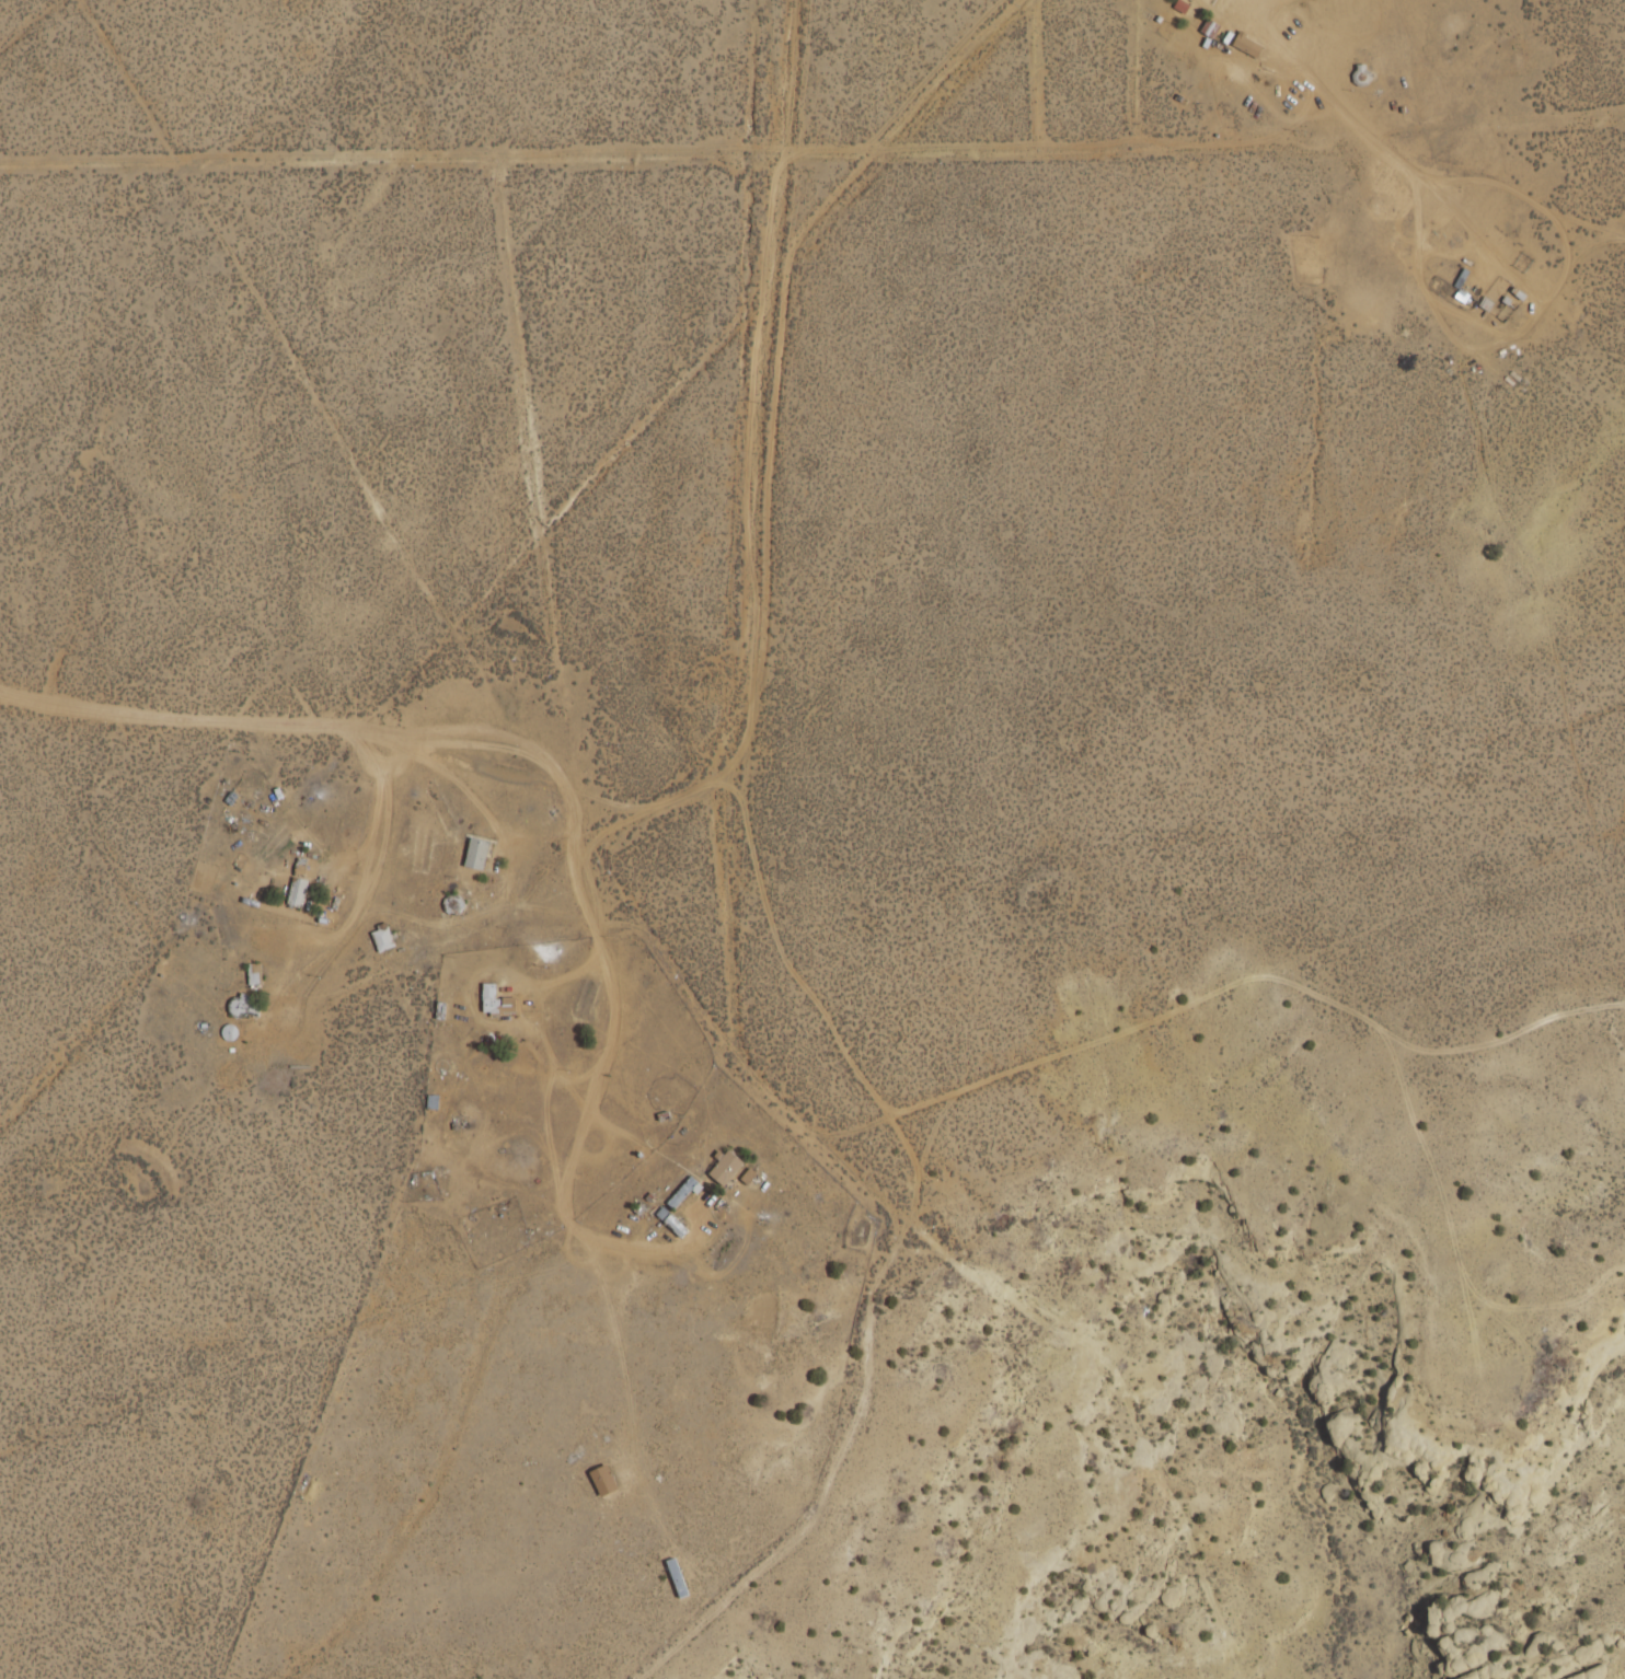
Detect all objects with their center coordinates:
building: (1207, 30)
building: (1243, 45)
building: (1359, 74)
road: (1075, 137)
road: (761, 308)
road: (753, 482)
road: (553, 672)
road: (670, 797)
building: (472, 854)
building: (293, 892)
building: (379, 938)
building: (251, 974)
building: (493, 1001)
building: (239, 1006)
building: (224, 1032)
building: (722, 1169)
building: (678, 1193)
building: (668, 1224)
road: (867, 1380)
building: (600, 1481)
building: (673, 1578)

